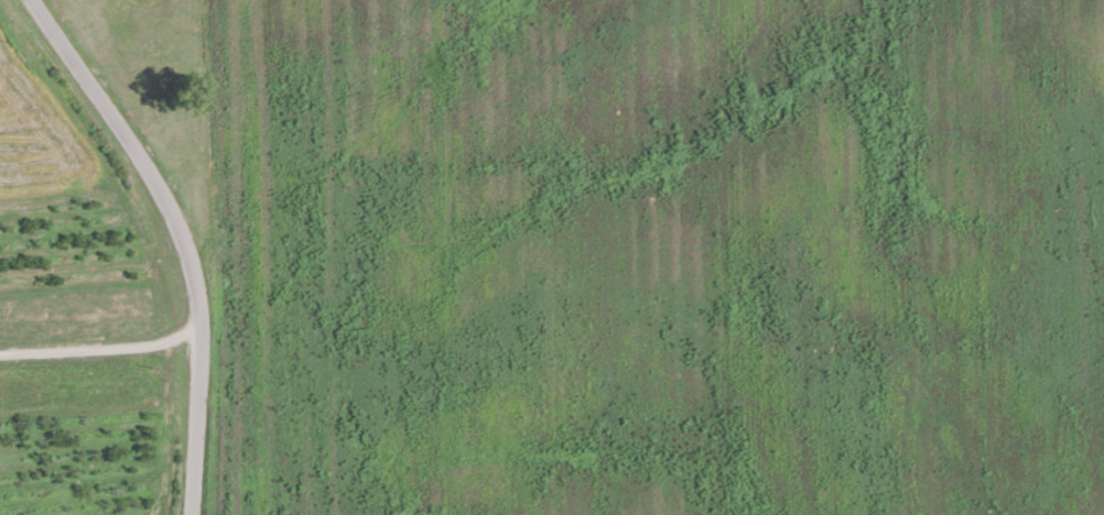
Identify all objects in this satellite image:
road: (184, 238)
crop: (918, 255)
road: (102, 348)

